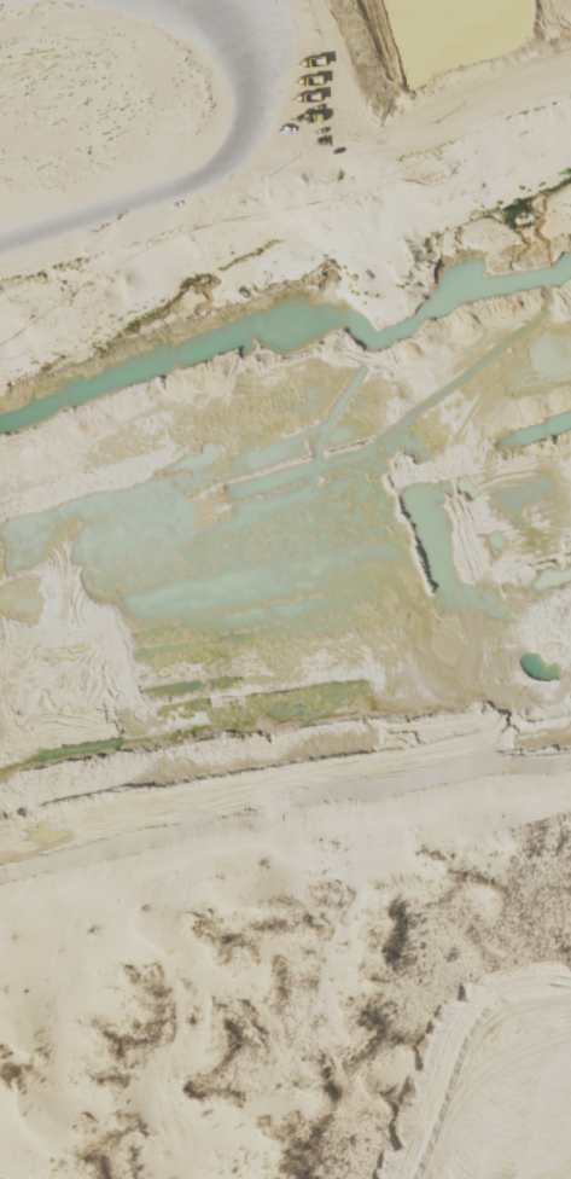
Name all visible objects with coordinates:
road: (209, 159)

